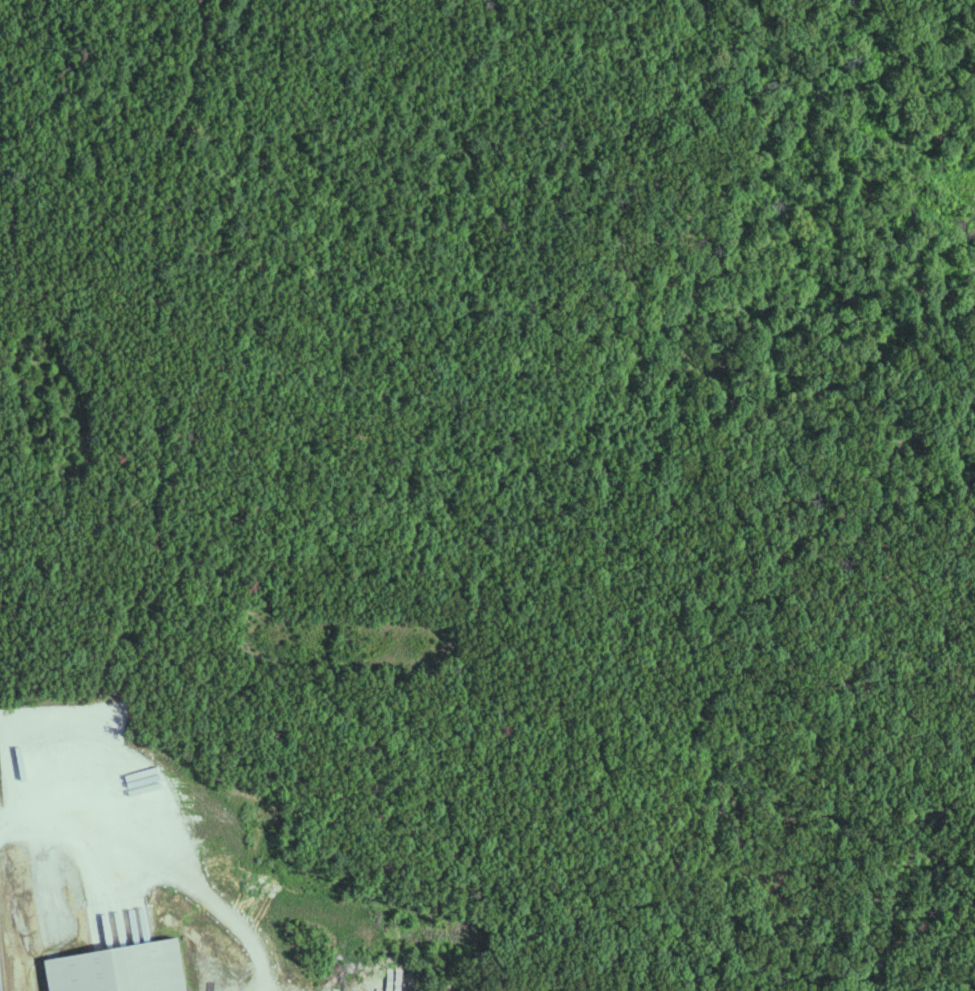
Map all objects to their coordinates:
road: (123, 894)

